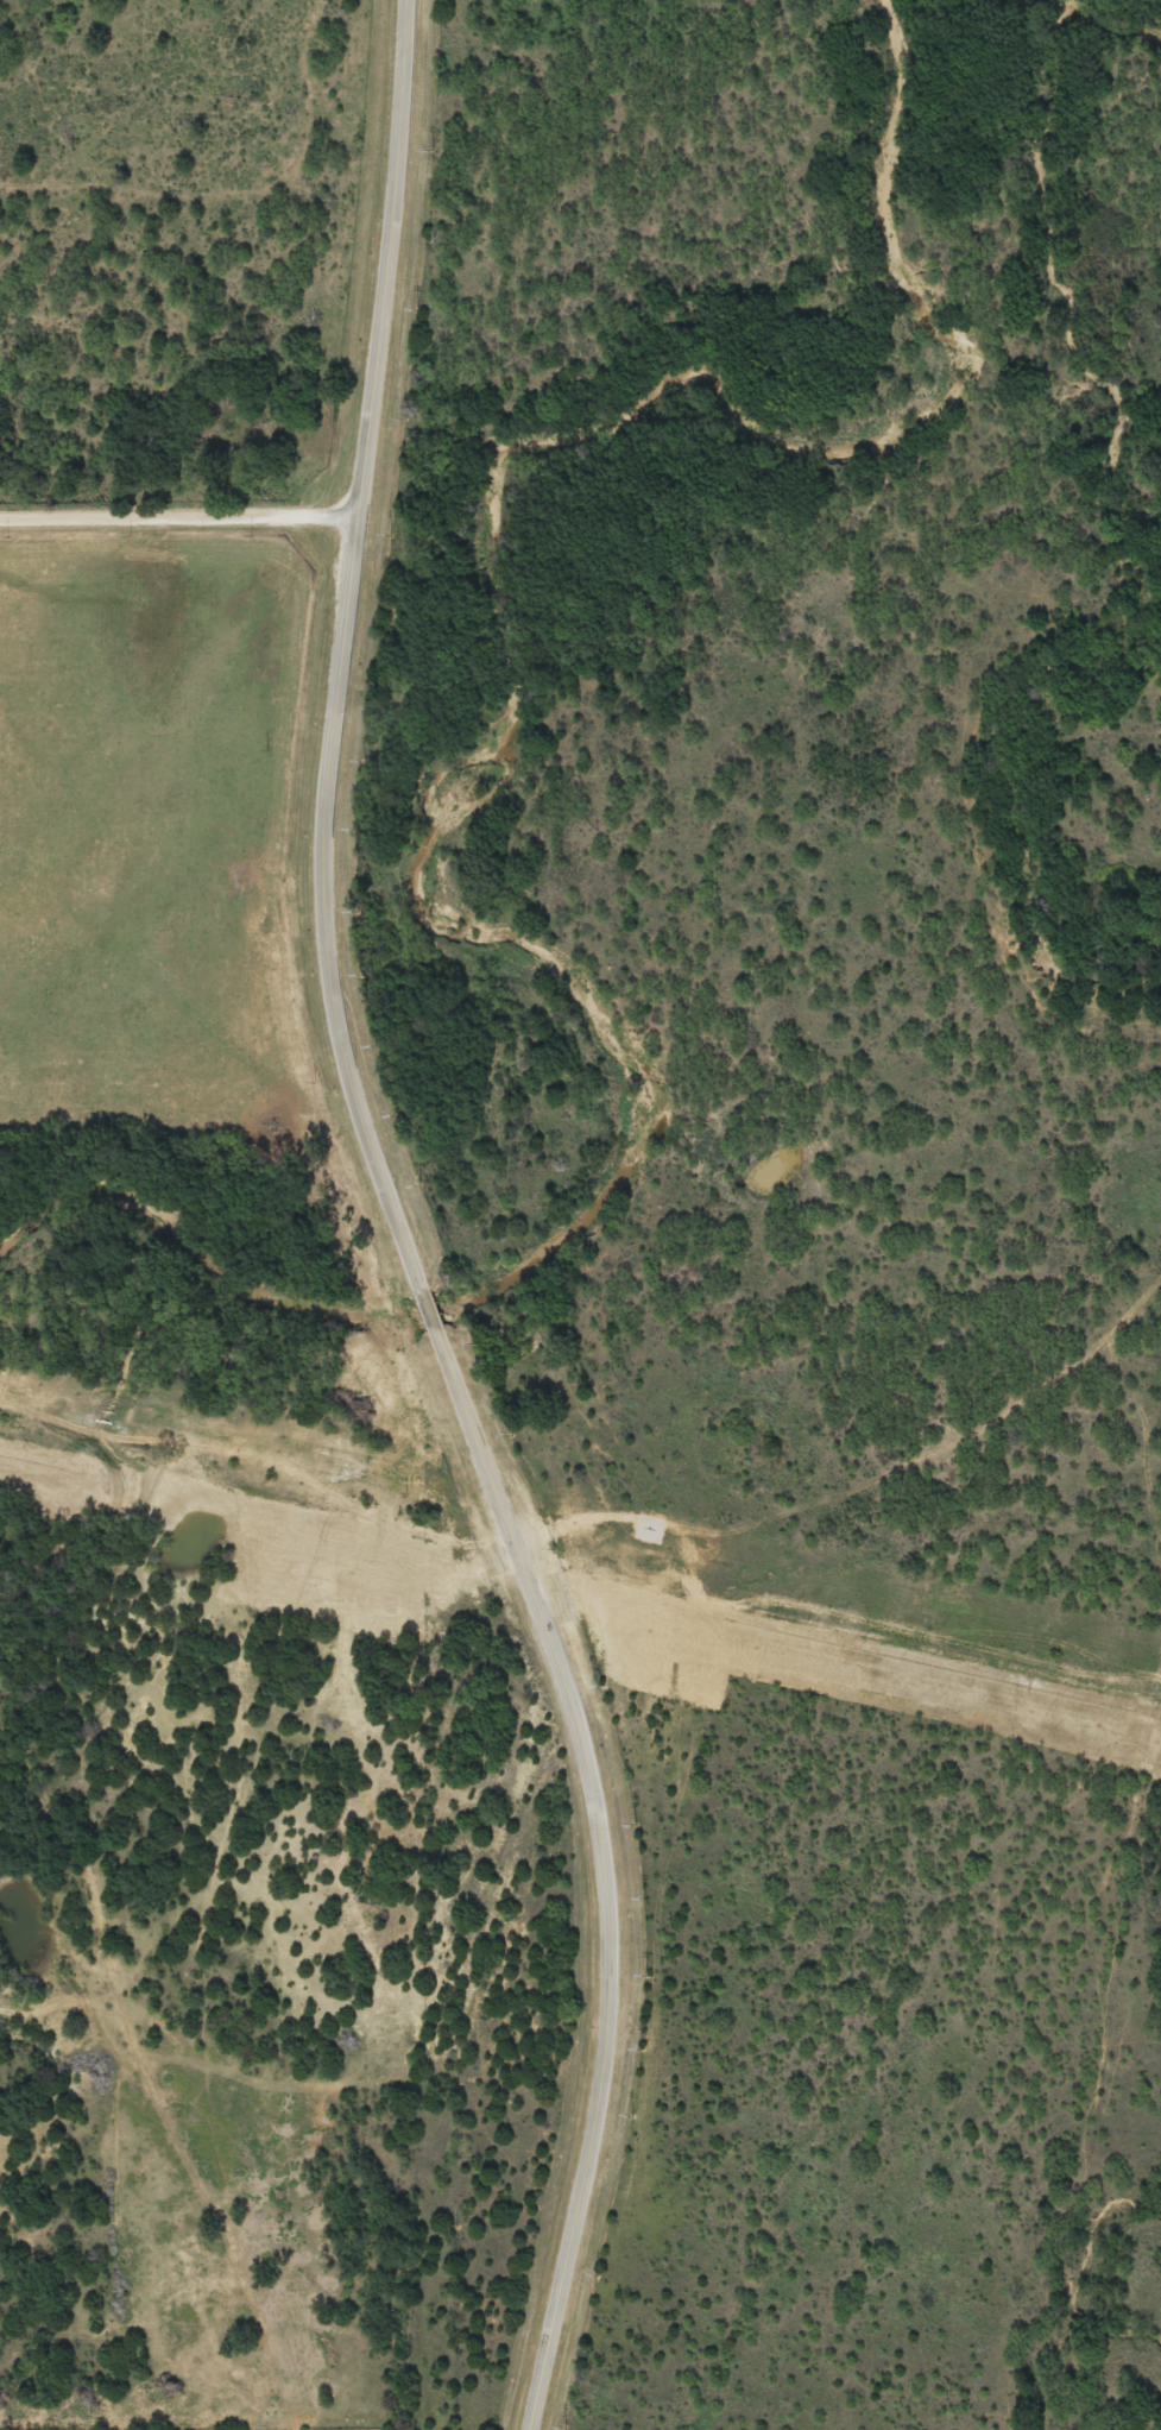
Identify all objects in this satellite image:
road: (178, 514)
road: (340, 649)
road: (428, 1308)
road: (606, 1869)

